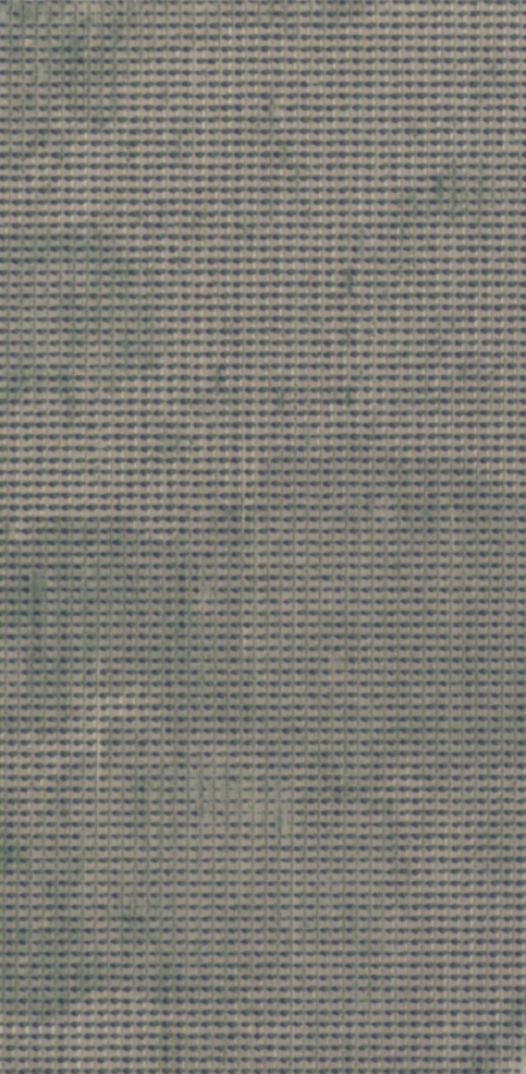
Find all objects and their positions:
crop: (264, 540)

